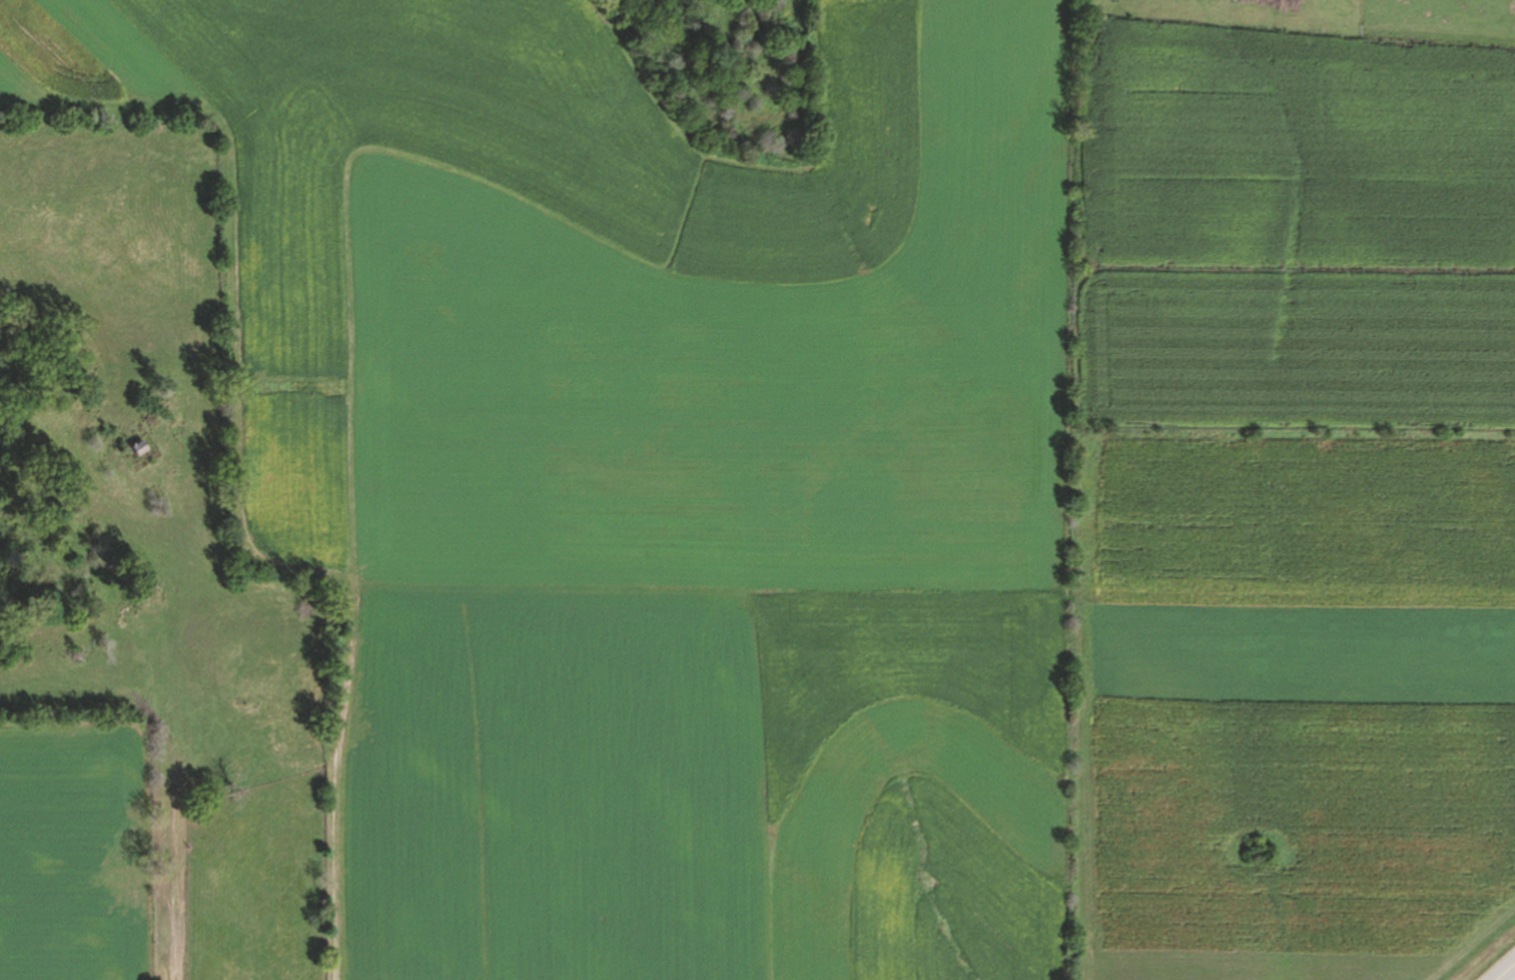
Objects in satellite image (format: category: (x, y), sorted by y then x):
road: (1510, 975)

